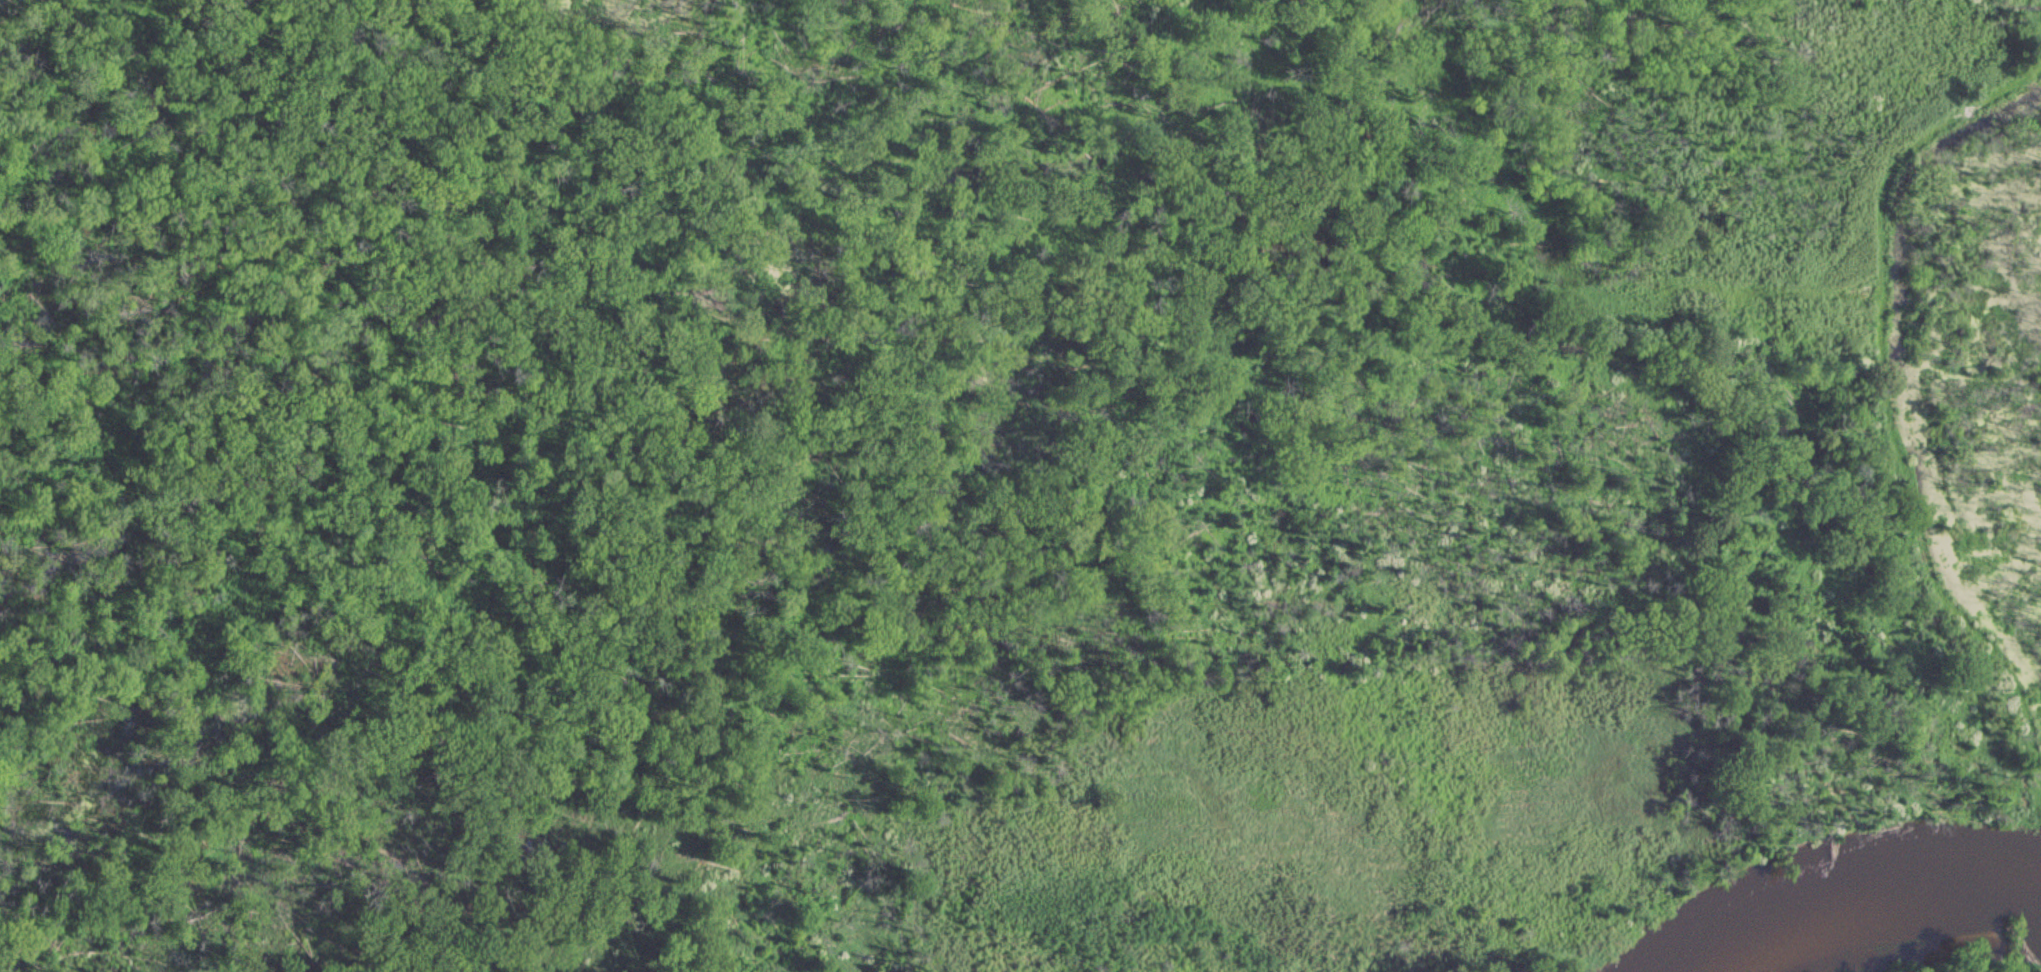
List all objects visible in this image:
road: (1904, 170)
river: (1884, 911)

